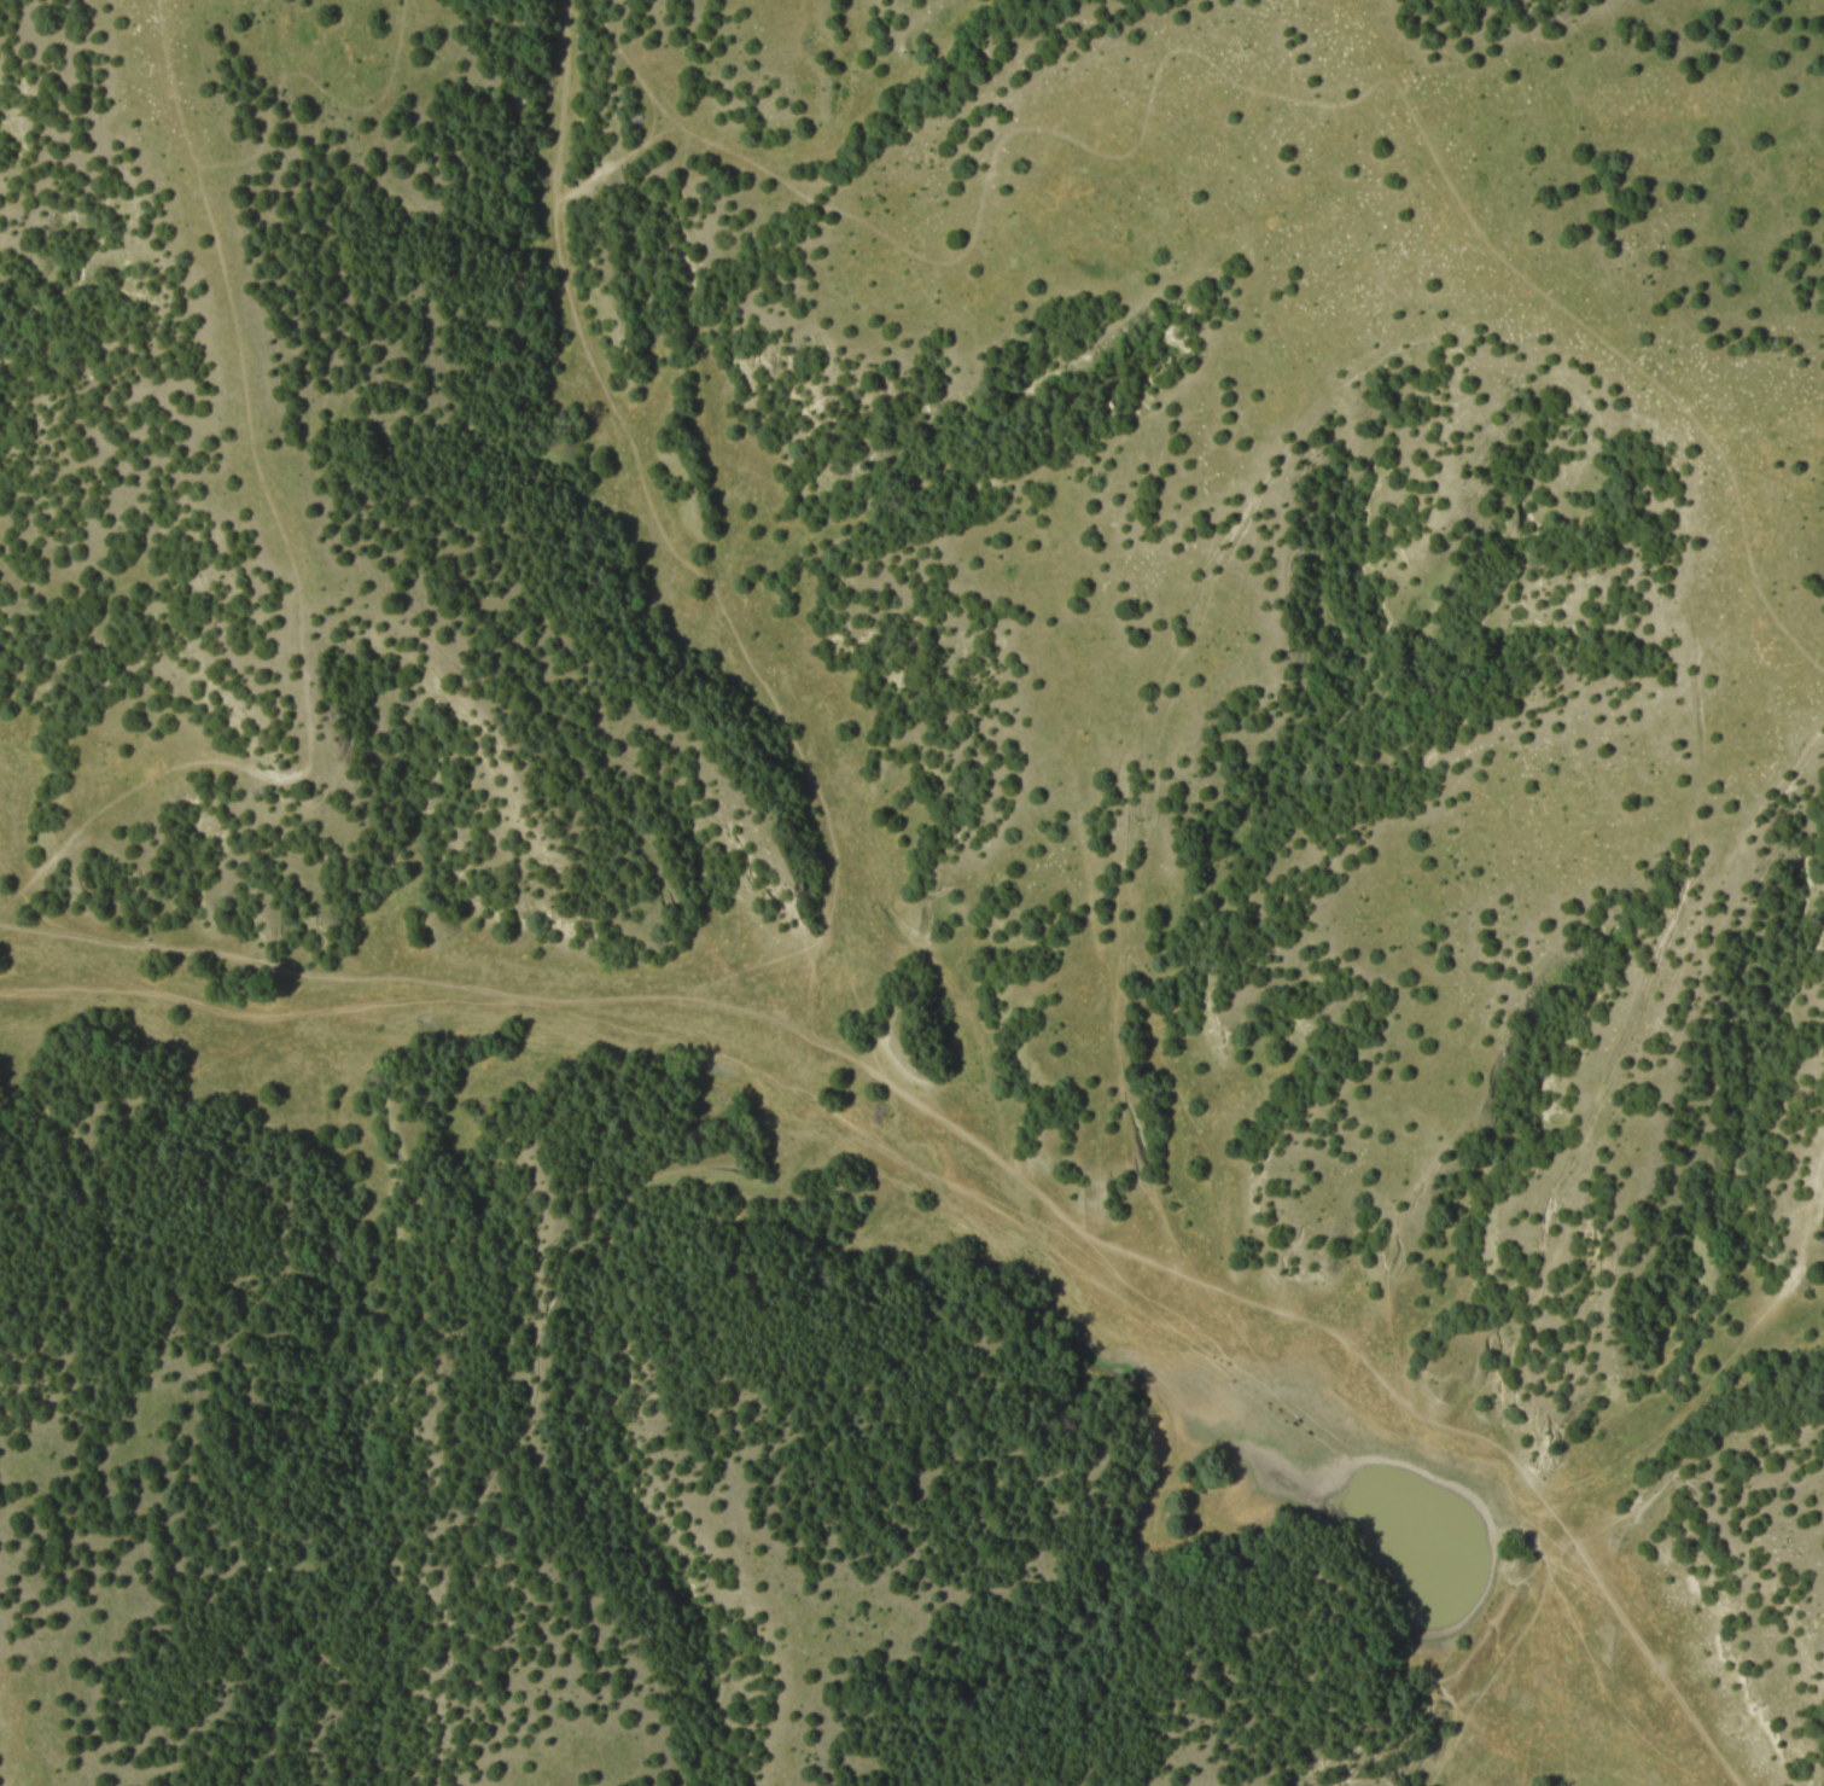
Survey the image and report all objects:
road: (940, 258)
road: (305, 517)
road: (1130, 658)
crop: (911, 892)
road: (561, 1020)
road: (1593, 1095)
road: (981, 1144)
road: (536, 1356)
road: (1712, 1512)
road: (1533, 1646)
road: (1455, 1664)
road: (1451, 1733)

